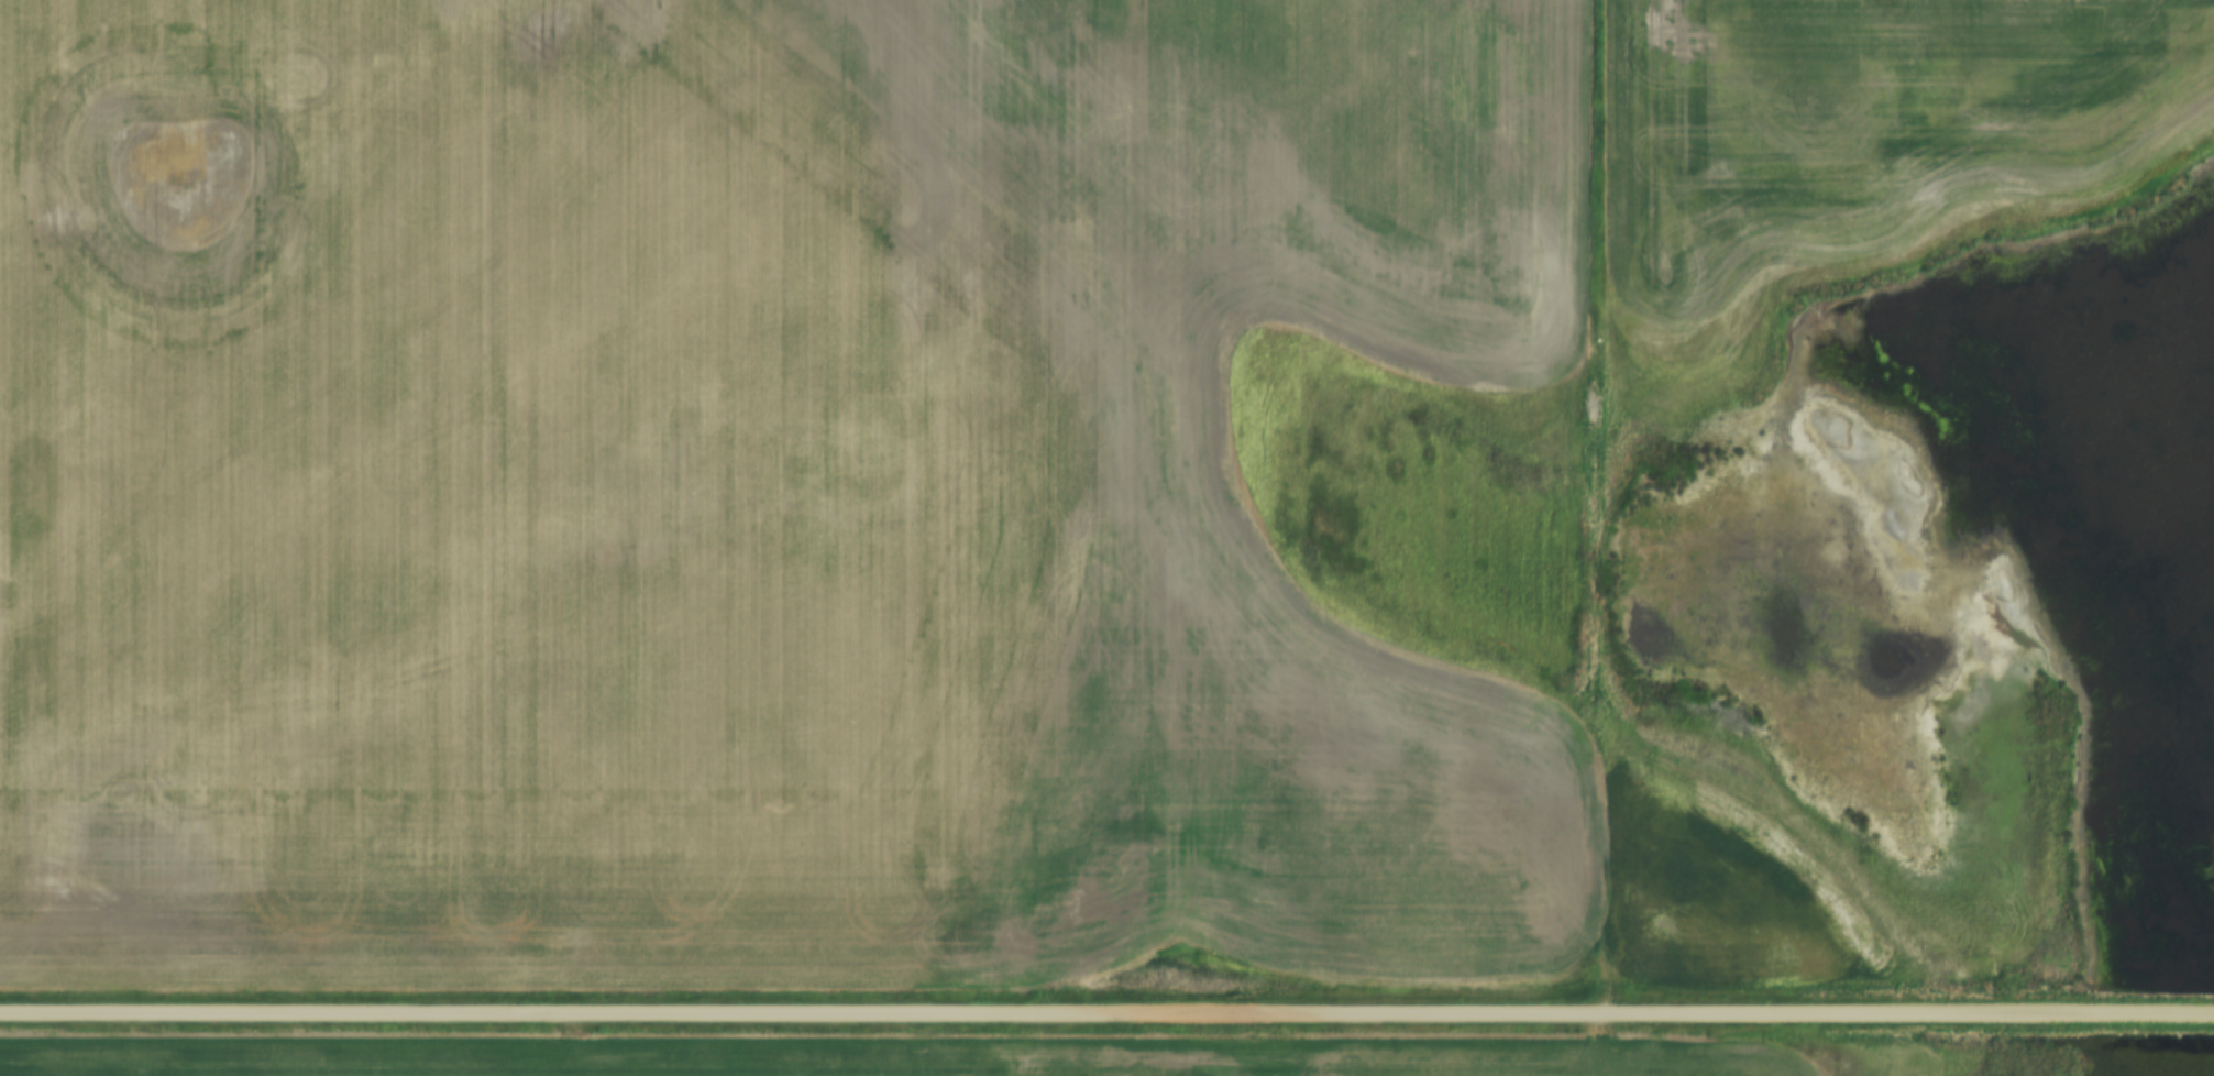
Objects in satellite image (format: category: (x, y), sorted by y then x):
road: (1633, 849)
road: (1106, 1014)

